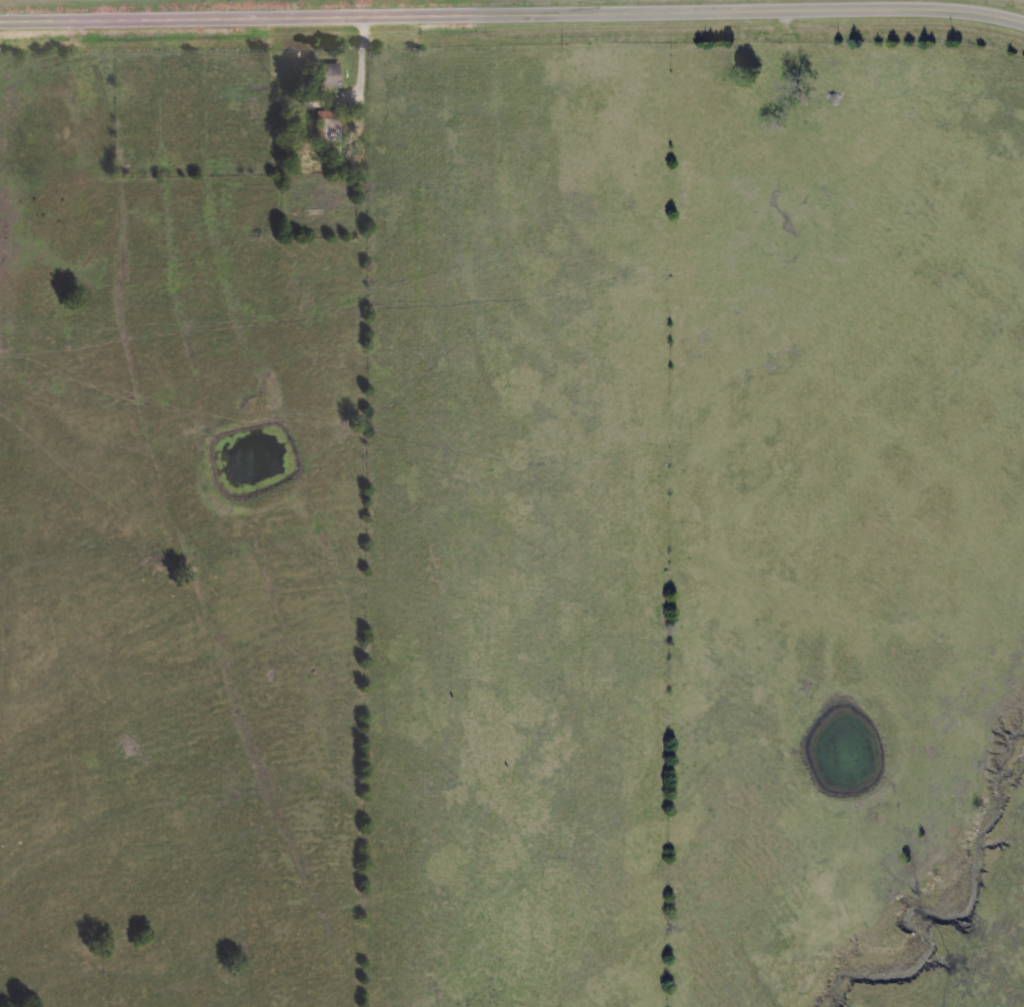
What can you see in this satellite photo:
road: (985, 5)
road: (400, 8)
building: (830, 66)
building: (333, 79)
building: (330, 130)

